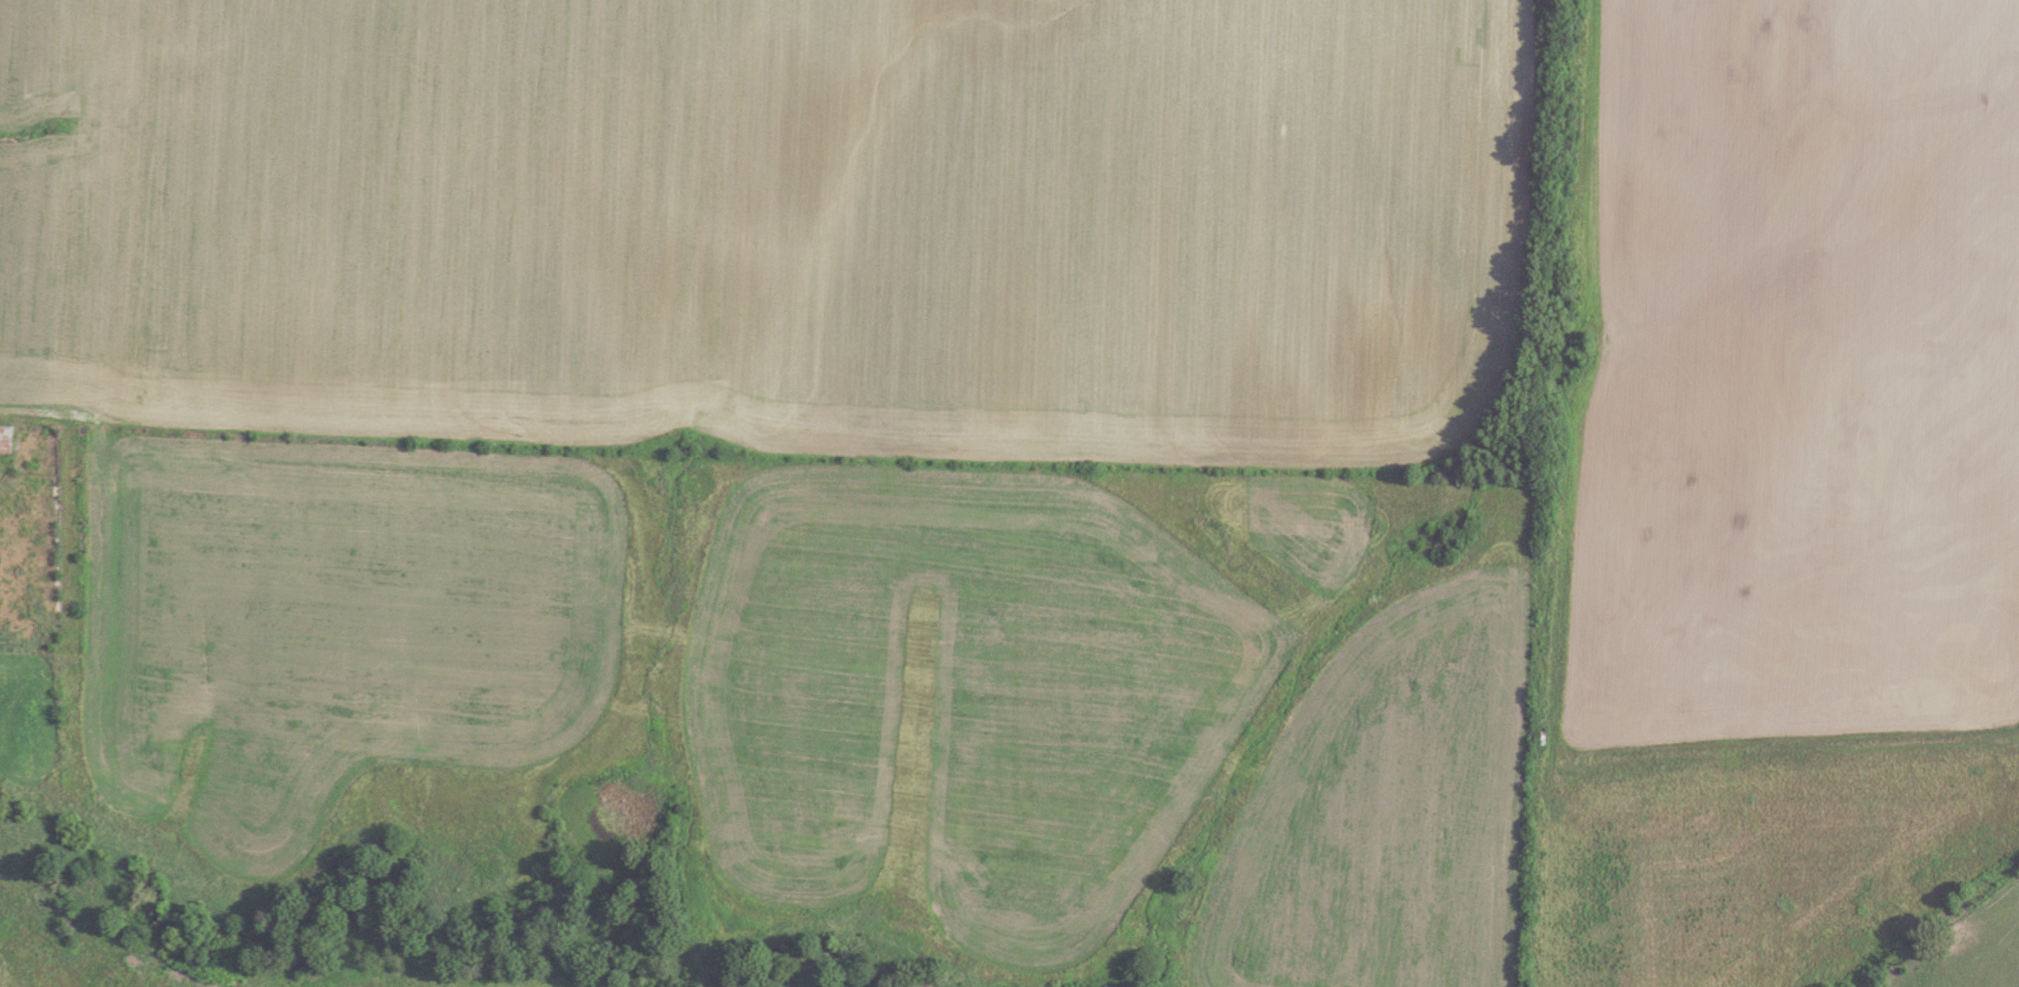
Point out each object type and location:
road: (46, 417)
building: (5, 438)
road: (65, 523)

